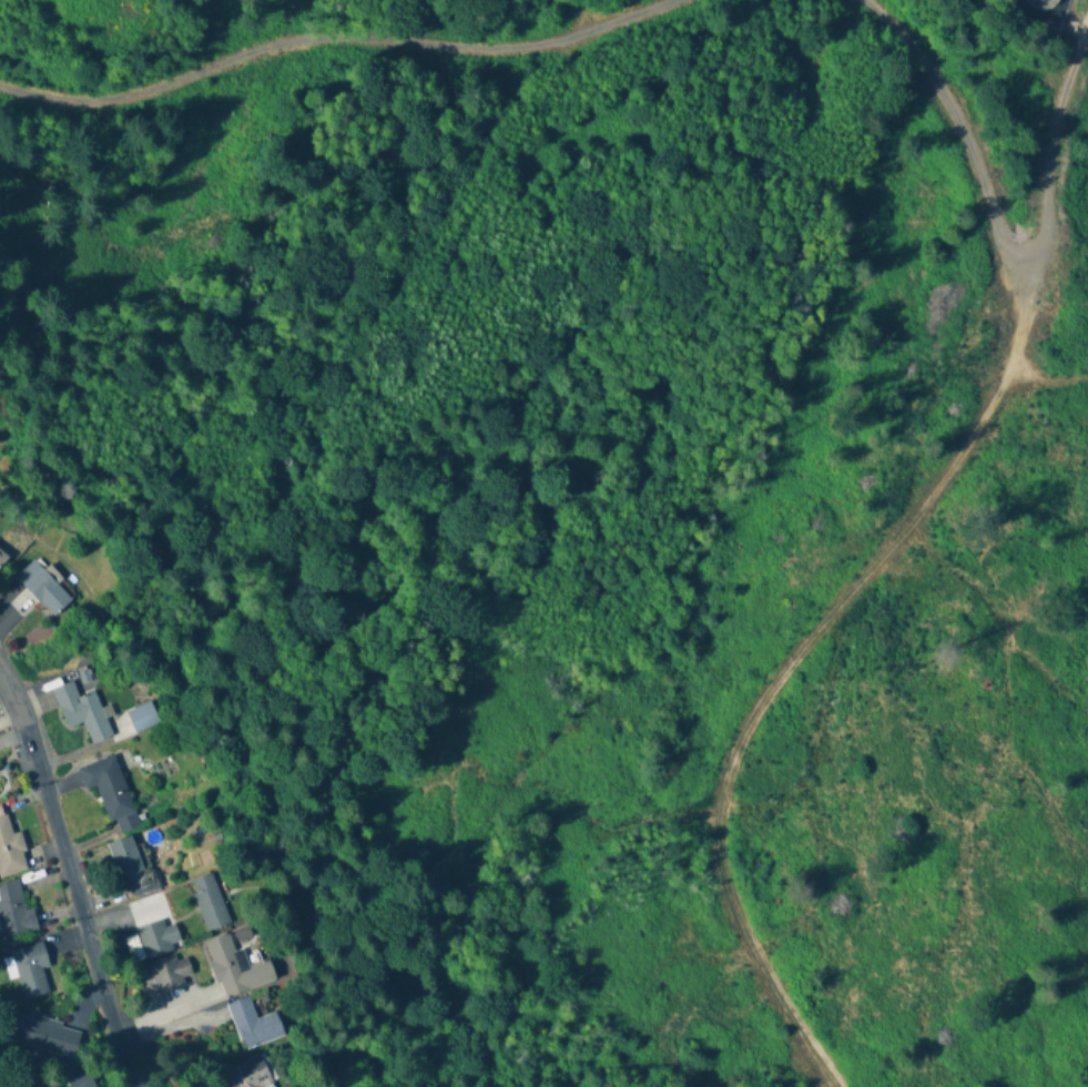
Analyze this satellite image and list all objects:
building: (1043, 3)
road: (336, 43)
road: (999, 228)
building: (3, 555)
building: (42, 587)
building: (82, 712)
building: (141, 718)
building: (110, 791)
building: (10, 850)
building: (128, 862)
road: (70, 881)
building: (209, 902)
building: (14, 911)
building: (156, 938)
building: (236, 967)
building: (30, 969)
building: (170, 973)
building: (254, 1024)
building: (45, 1035)
building: (248, 1074)
building: (83, 1081)

